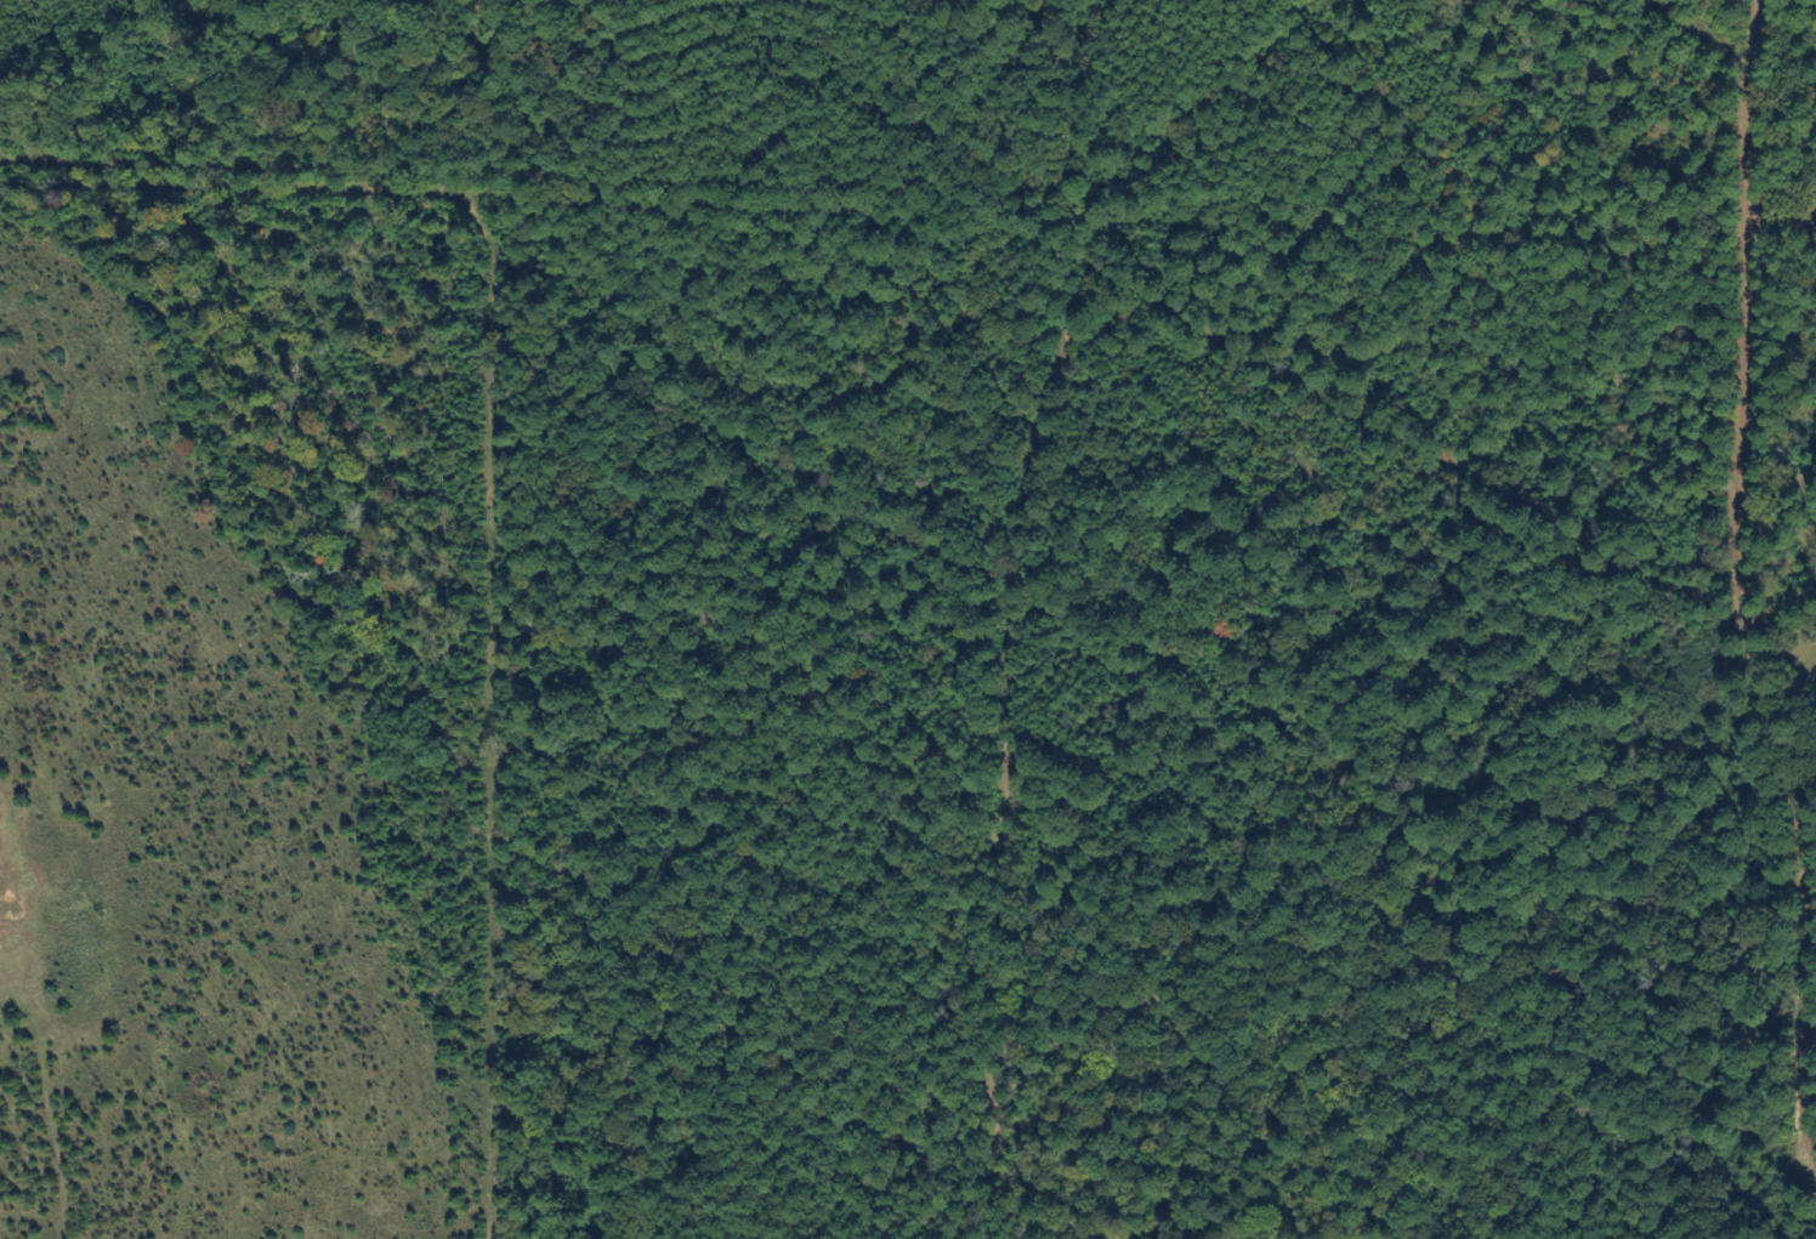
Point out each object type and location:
road: (1641, 27)
road: (1746, 619)

